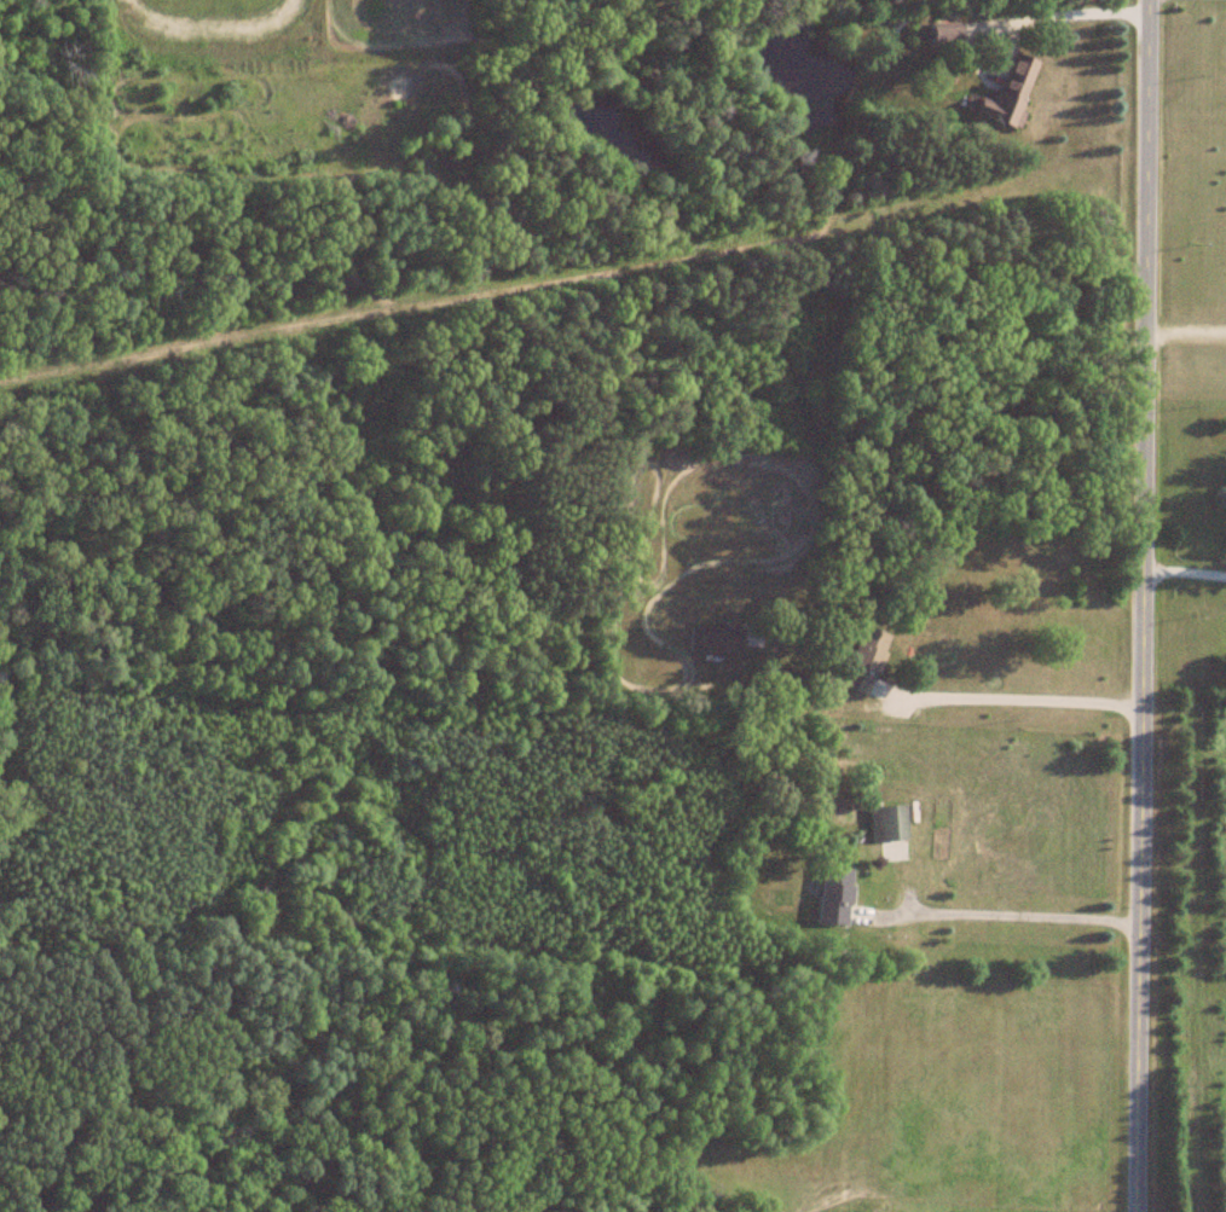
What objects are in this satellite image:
road: (1053, 18)
building: (1007, 94)
road: (8, 143)
road: (1174, 331)
road: (1173, 575)
road: (1121, 605)
road: (510, 631)
building: (715, 642)
building: (863, 661)
road: (1001, 701)
building: (887, 833)
building: (833, 897)
road: (988, 918)

